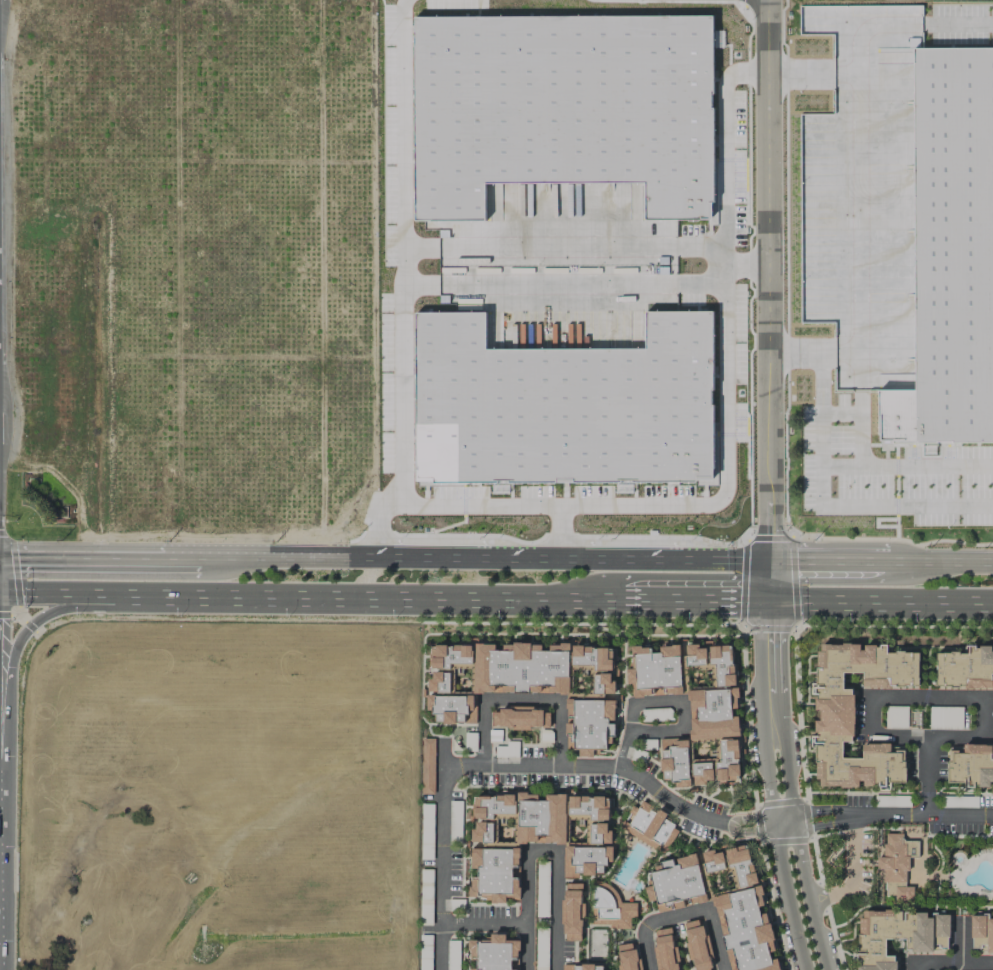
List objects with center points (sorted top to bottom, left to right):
road: (963, 20)
road: (796, 68)
building: (565, 98)
road: (405, 122)
road: (729, 147)
building: (951, 242)
road: (561, 245)
road: (723, 257)
road: (534, 284)
road: (767, 300)
building: (564, 395)
road: (405, 426)
road: (829, 462)
road: (682, 502)
road: (565, 529)
road: (504, 557)
road: (81, 558)
road: (181, 558)
road: (286, 558)
road: (886, 559)
road: (941, 559)
road: (702, 560)
road: (825, 561)
road: (311, 595)
road: (695, 598)
traffic signals: (768, 602)
road: (880, 603)
road: (33, 622)
road: (769, 650)
building: (965, 668)
building: (654, 671)
building: (527, 684)
road: (964, 698)
road: (520, 701)
road: (661, 703)
building: (836, 714)
building: (519, 718)
building: (705, 723)
building: (427, 766)
building: (970, 766)
road: (625, 771)
road: (921, 815)
road: (850, 816)
building: (649, 826)
road: (775, 834)
road: (796, 834)
building: (534, 837)
road: (441, 853)
road: (557, 860)
building: (896, 865)
road: (851, 871)
building: (675, 883)
building: (611, 907)
building: (572, 912)
building: (741, 912)
road: (684, 915)
road: (483, 923)
building: (981, 933)
building: (898, 935)
road: (962, 940)
building: (697, 944)
road: (525, 946)
building: (665, 950)
building: (493, 952)
building: (627, 956)
road: (952, 963)
building: (581, 967)

